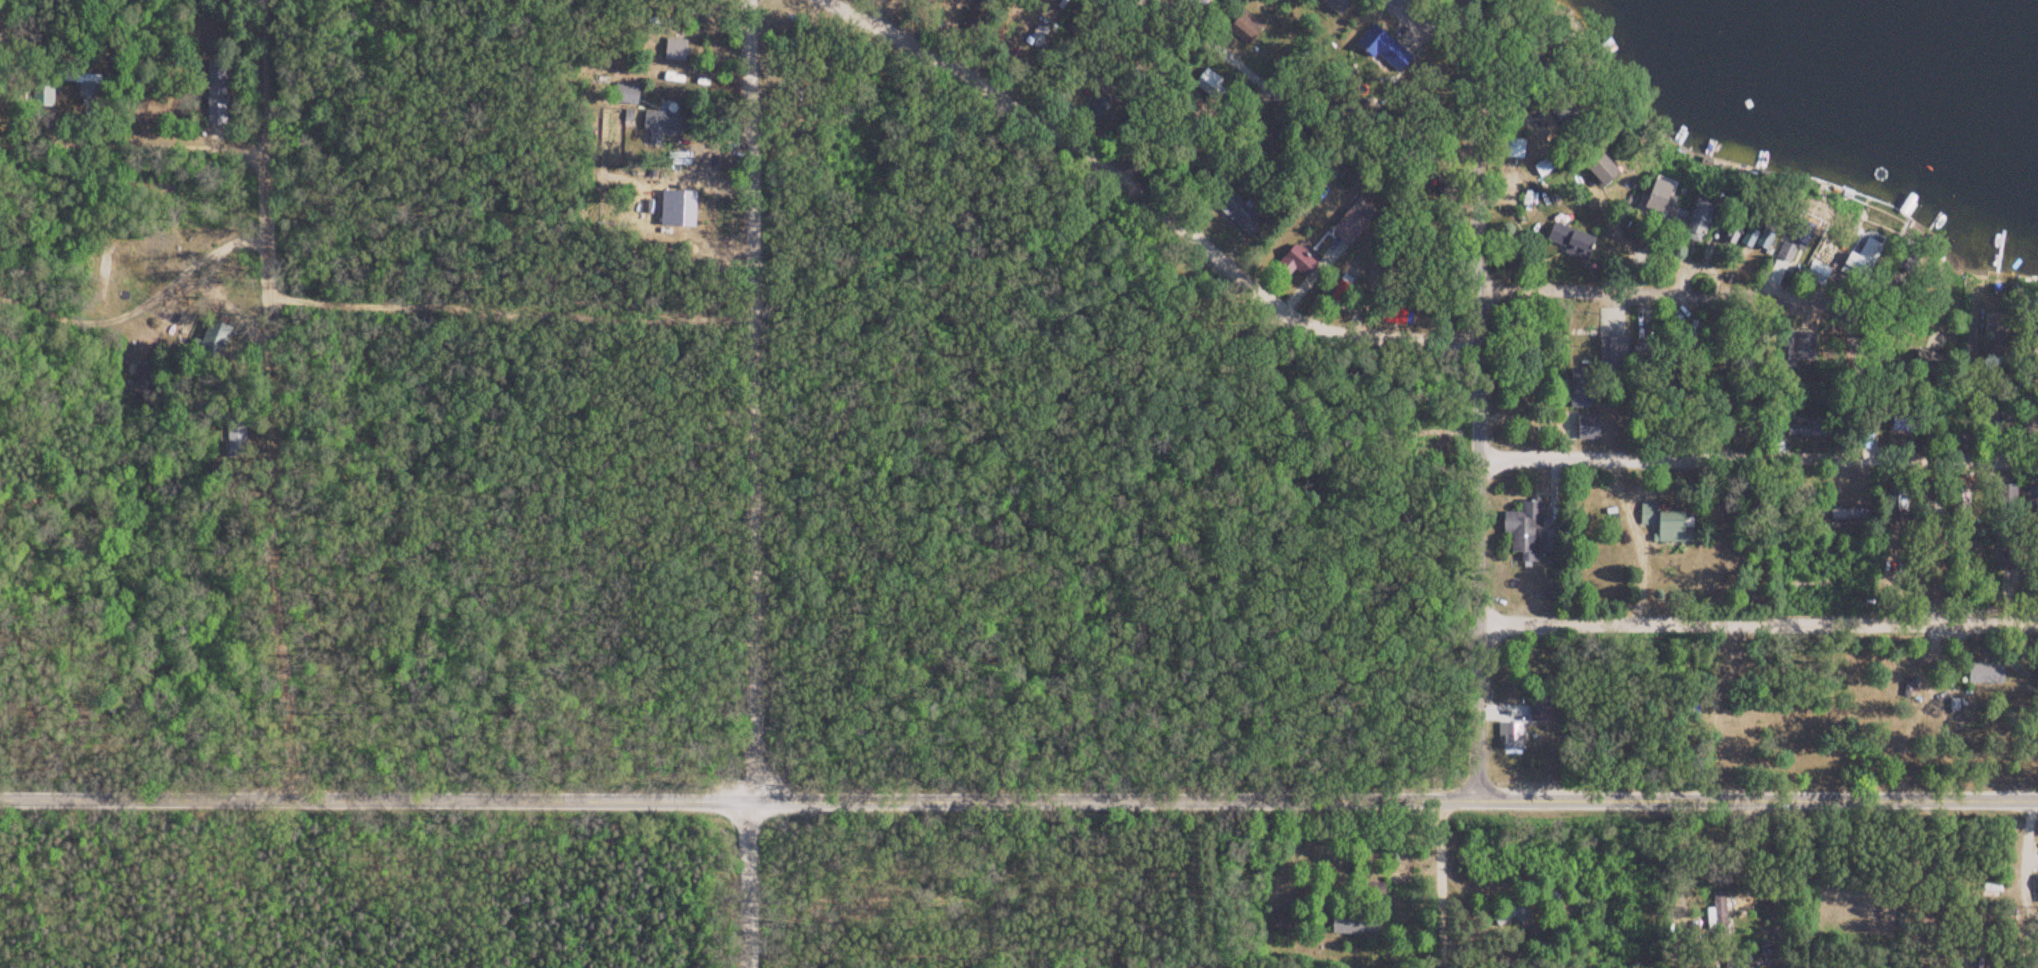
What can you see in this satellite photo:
road: (857, 1)
building: (1337, 5)
road: (1188, 33)
road: (1067, 52)
road: (1547, 56)
building: (83, 88)
road: (128, 113)
building: (659, 124)
road: (1571, 148)
building: (1522, 149)
road: (1458, 152)
building: (1602, 170)
road: (1144, 190)
building: (1701, 218)
building: (1352, 222)
building: (1766, 240)
building: (1569, 241)
road: (1668, 251)
building: (1863, 260)
road: (1560, 266)
road: (361, 275)
building: (1820, 275)
road: (1458, 287)
building: (212, 340)
building: (1997, 344)
building: (1646, 349)
building: (1608, 359)
building: (1578, 381)
road: (260, 400)
building: (1589, 426)
road: (1749, 432)
road: (739, 483)
building: (1851, 516)
building: (1664, 523)
road: (1457, 556)
road: (1747, 596)
building: (1985, 673)
road: (1019, 800)
road: (1449, 884)

